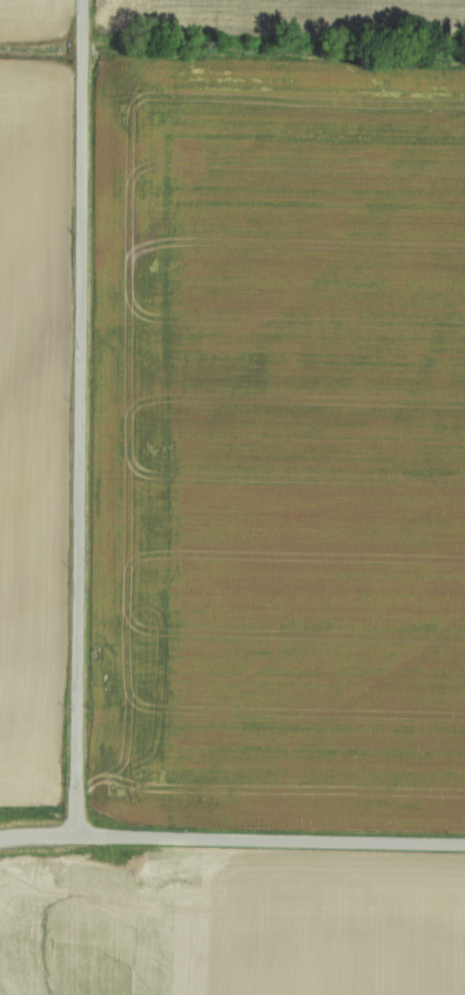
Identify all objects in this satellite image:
road: (81, 418)
road: (232, 840)

